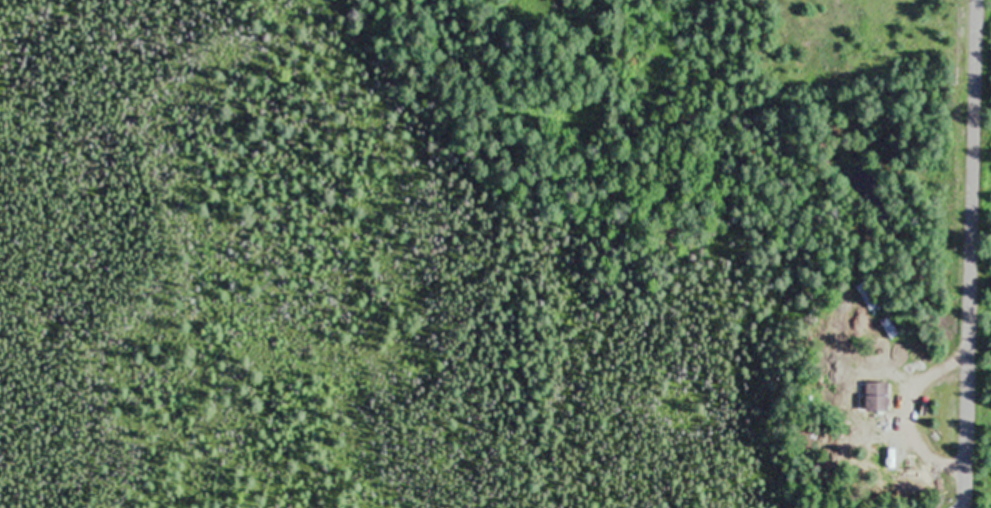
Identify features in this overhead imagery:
road: (977, 254)
building: (877, 398)
building: (894, 451)

